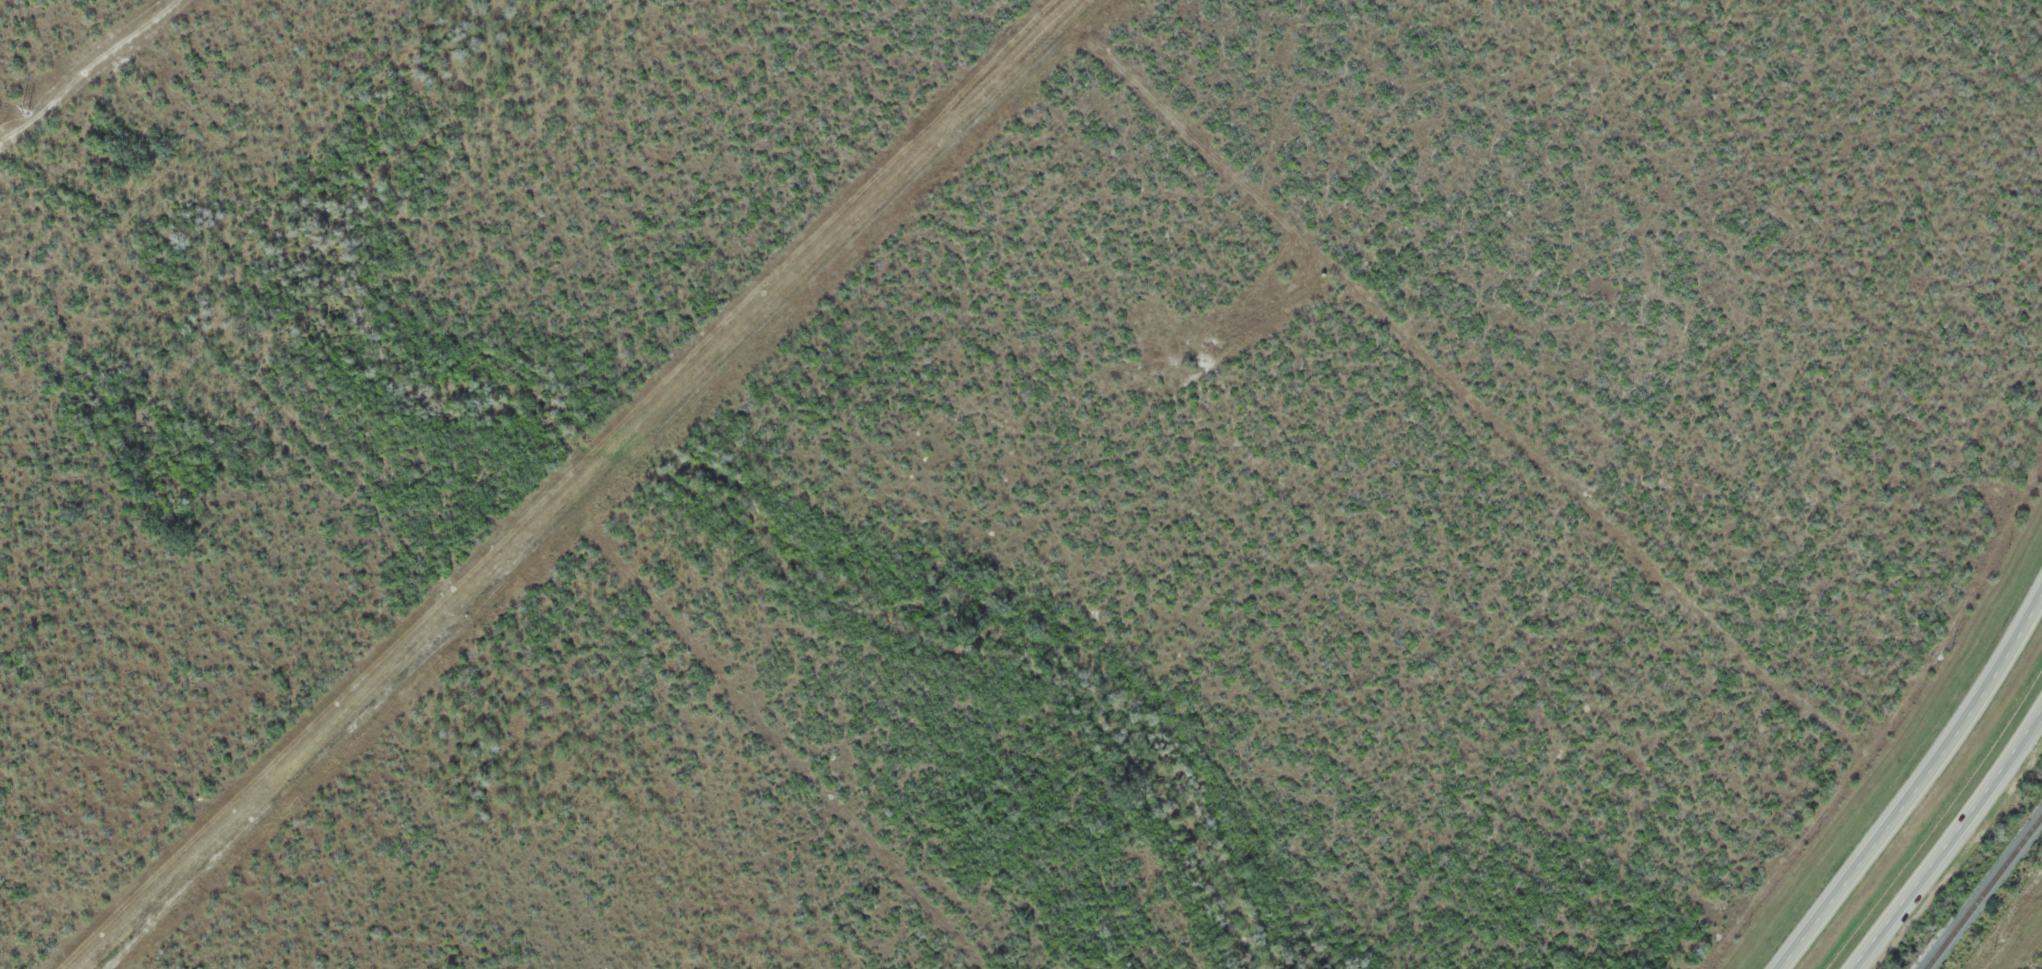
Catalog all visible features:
power tower: (26, 109)
road: (1920, 788)
road: (1948, 836)
railway: (1982, 891)

